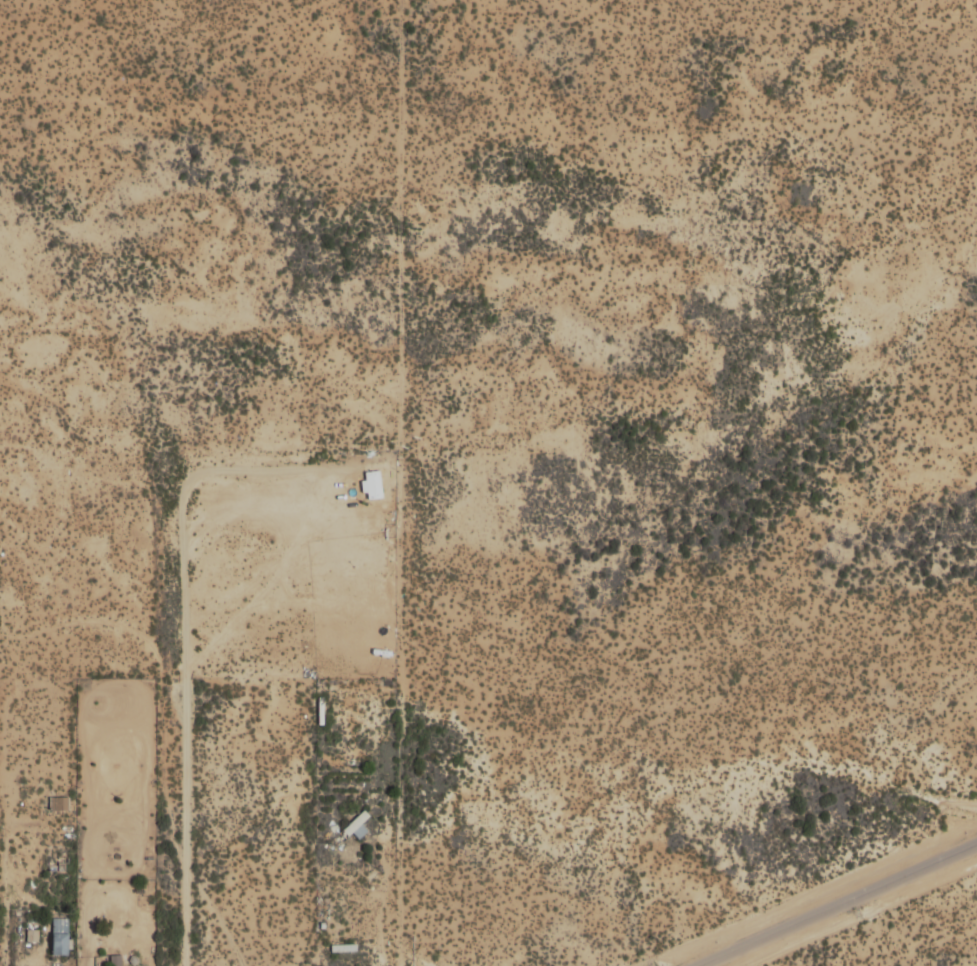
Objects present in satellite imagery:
building: (374, 484)
road: (166, 667)
building: (319, 712)
building: (57, 805)
building: (350, 831)
road: (401, 848)
road: (219, 910)
building: (57, 937)
building: (341, 949)

